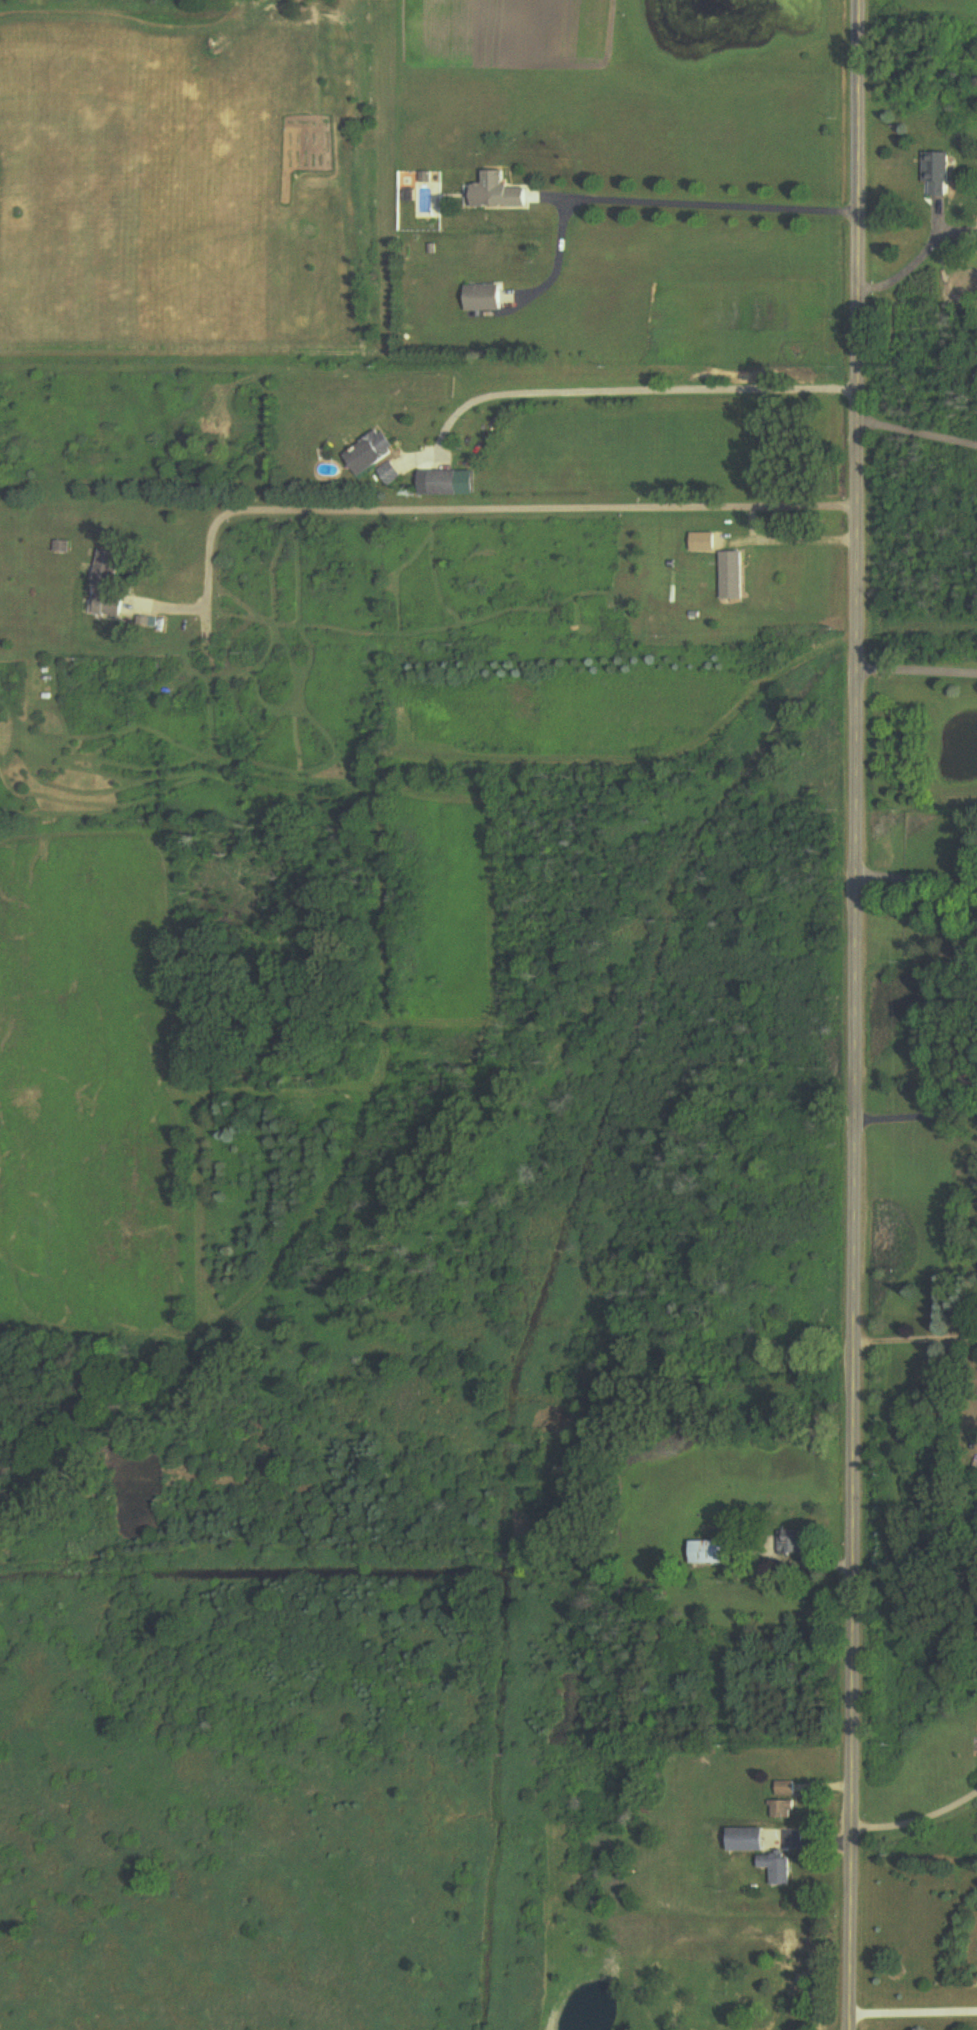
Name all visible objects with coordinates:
building: (937, 168)
building: (500, 193)
road: (652, 203)
road: (916, 261)
building: (484, 298)
road: (618, 389)
road: (918, 423)
building: (372, 453)
building: (391, 474)
building: (445, 484)
road: (472, 507)
road: (789, 541)
building: (731, 576)
building: (109, 587)
road: (918, 661)
road: (916, 878)
road: (858, 1014)
road: (917, 1115)
road: (917, 1340)
building: (791, 1543)
building: (711, 1553)
building: (783, 1790)
building: (778, 1810)
road: (917, 1816)
building: (744, 1840)
building: (774, 1869)
road: (916, 2011)

